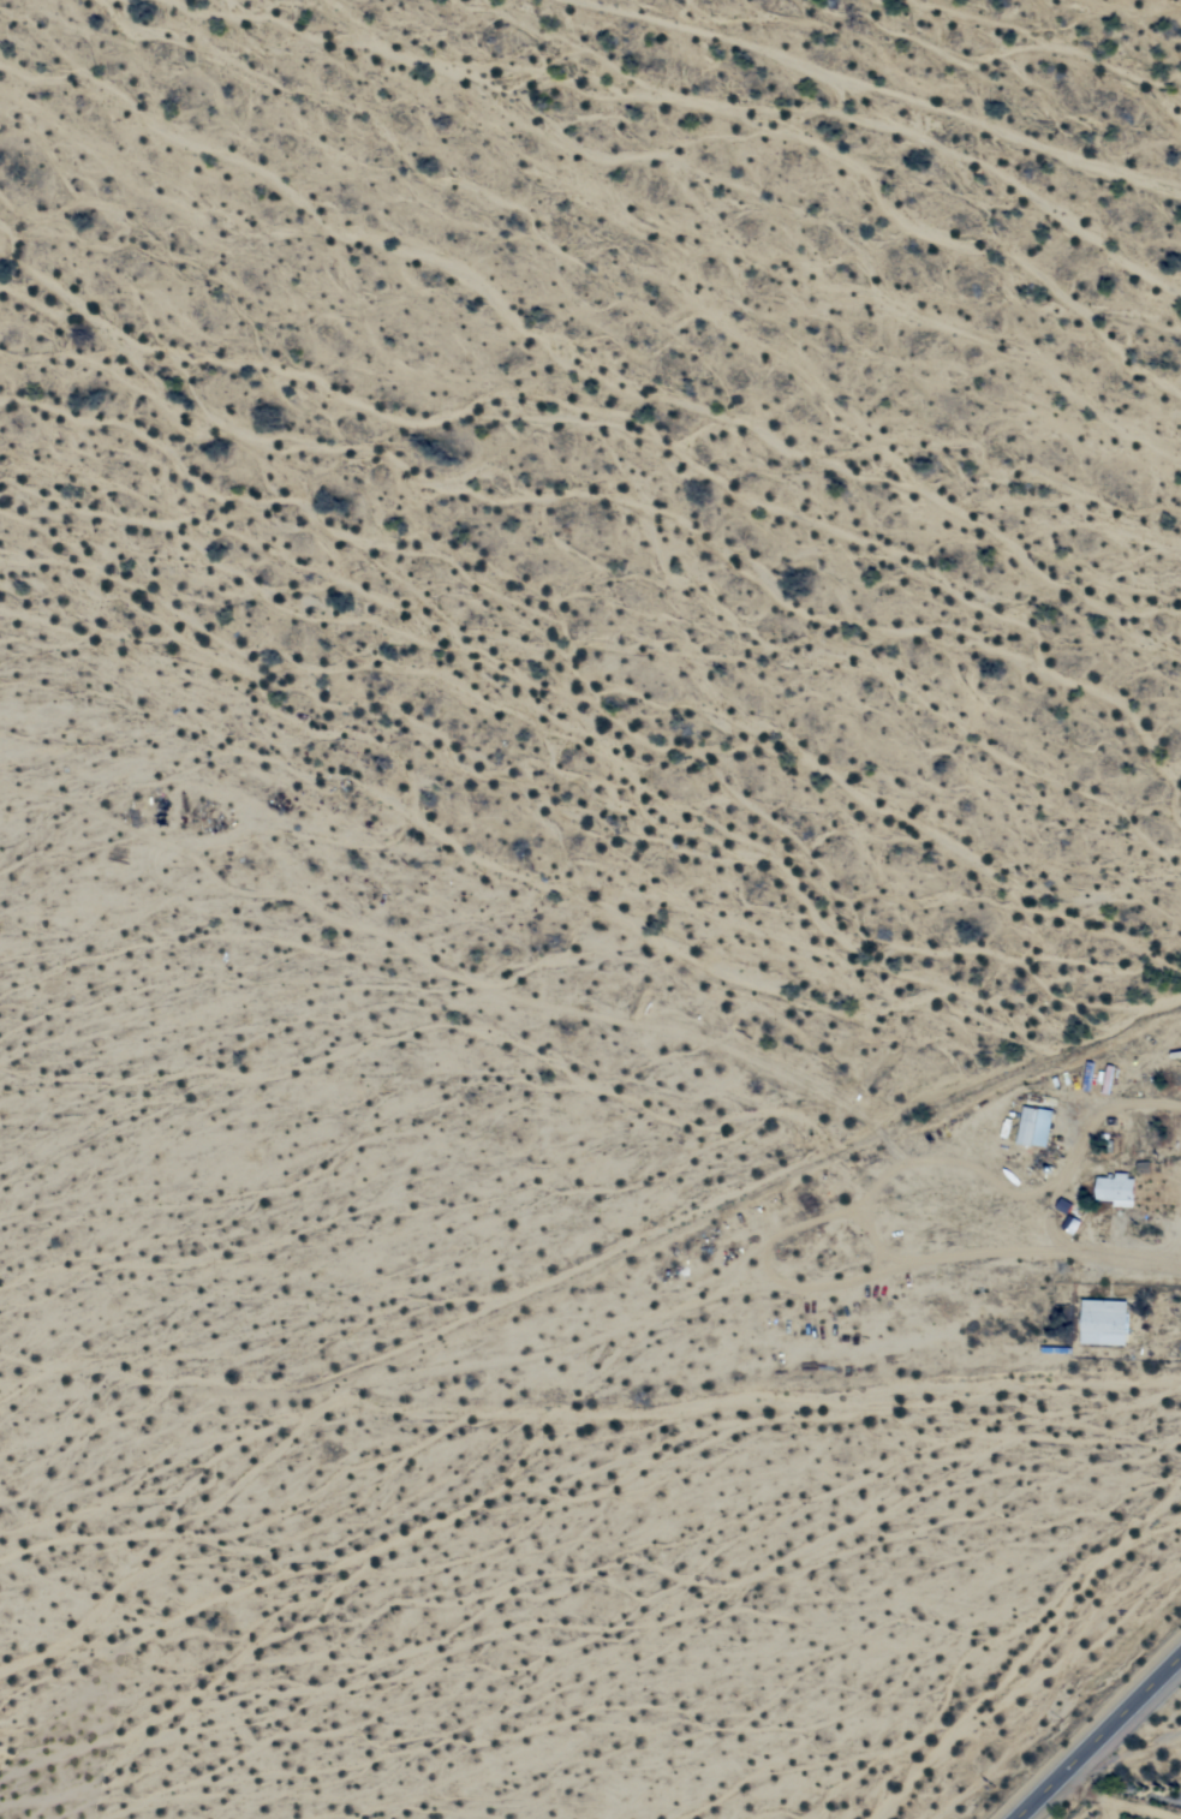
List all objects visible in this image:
building: (1033, 1127)
building: (1115, 1189)
building: (1103, 1322)
road: (1098, 1736)

